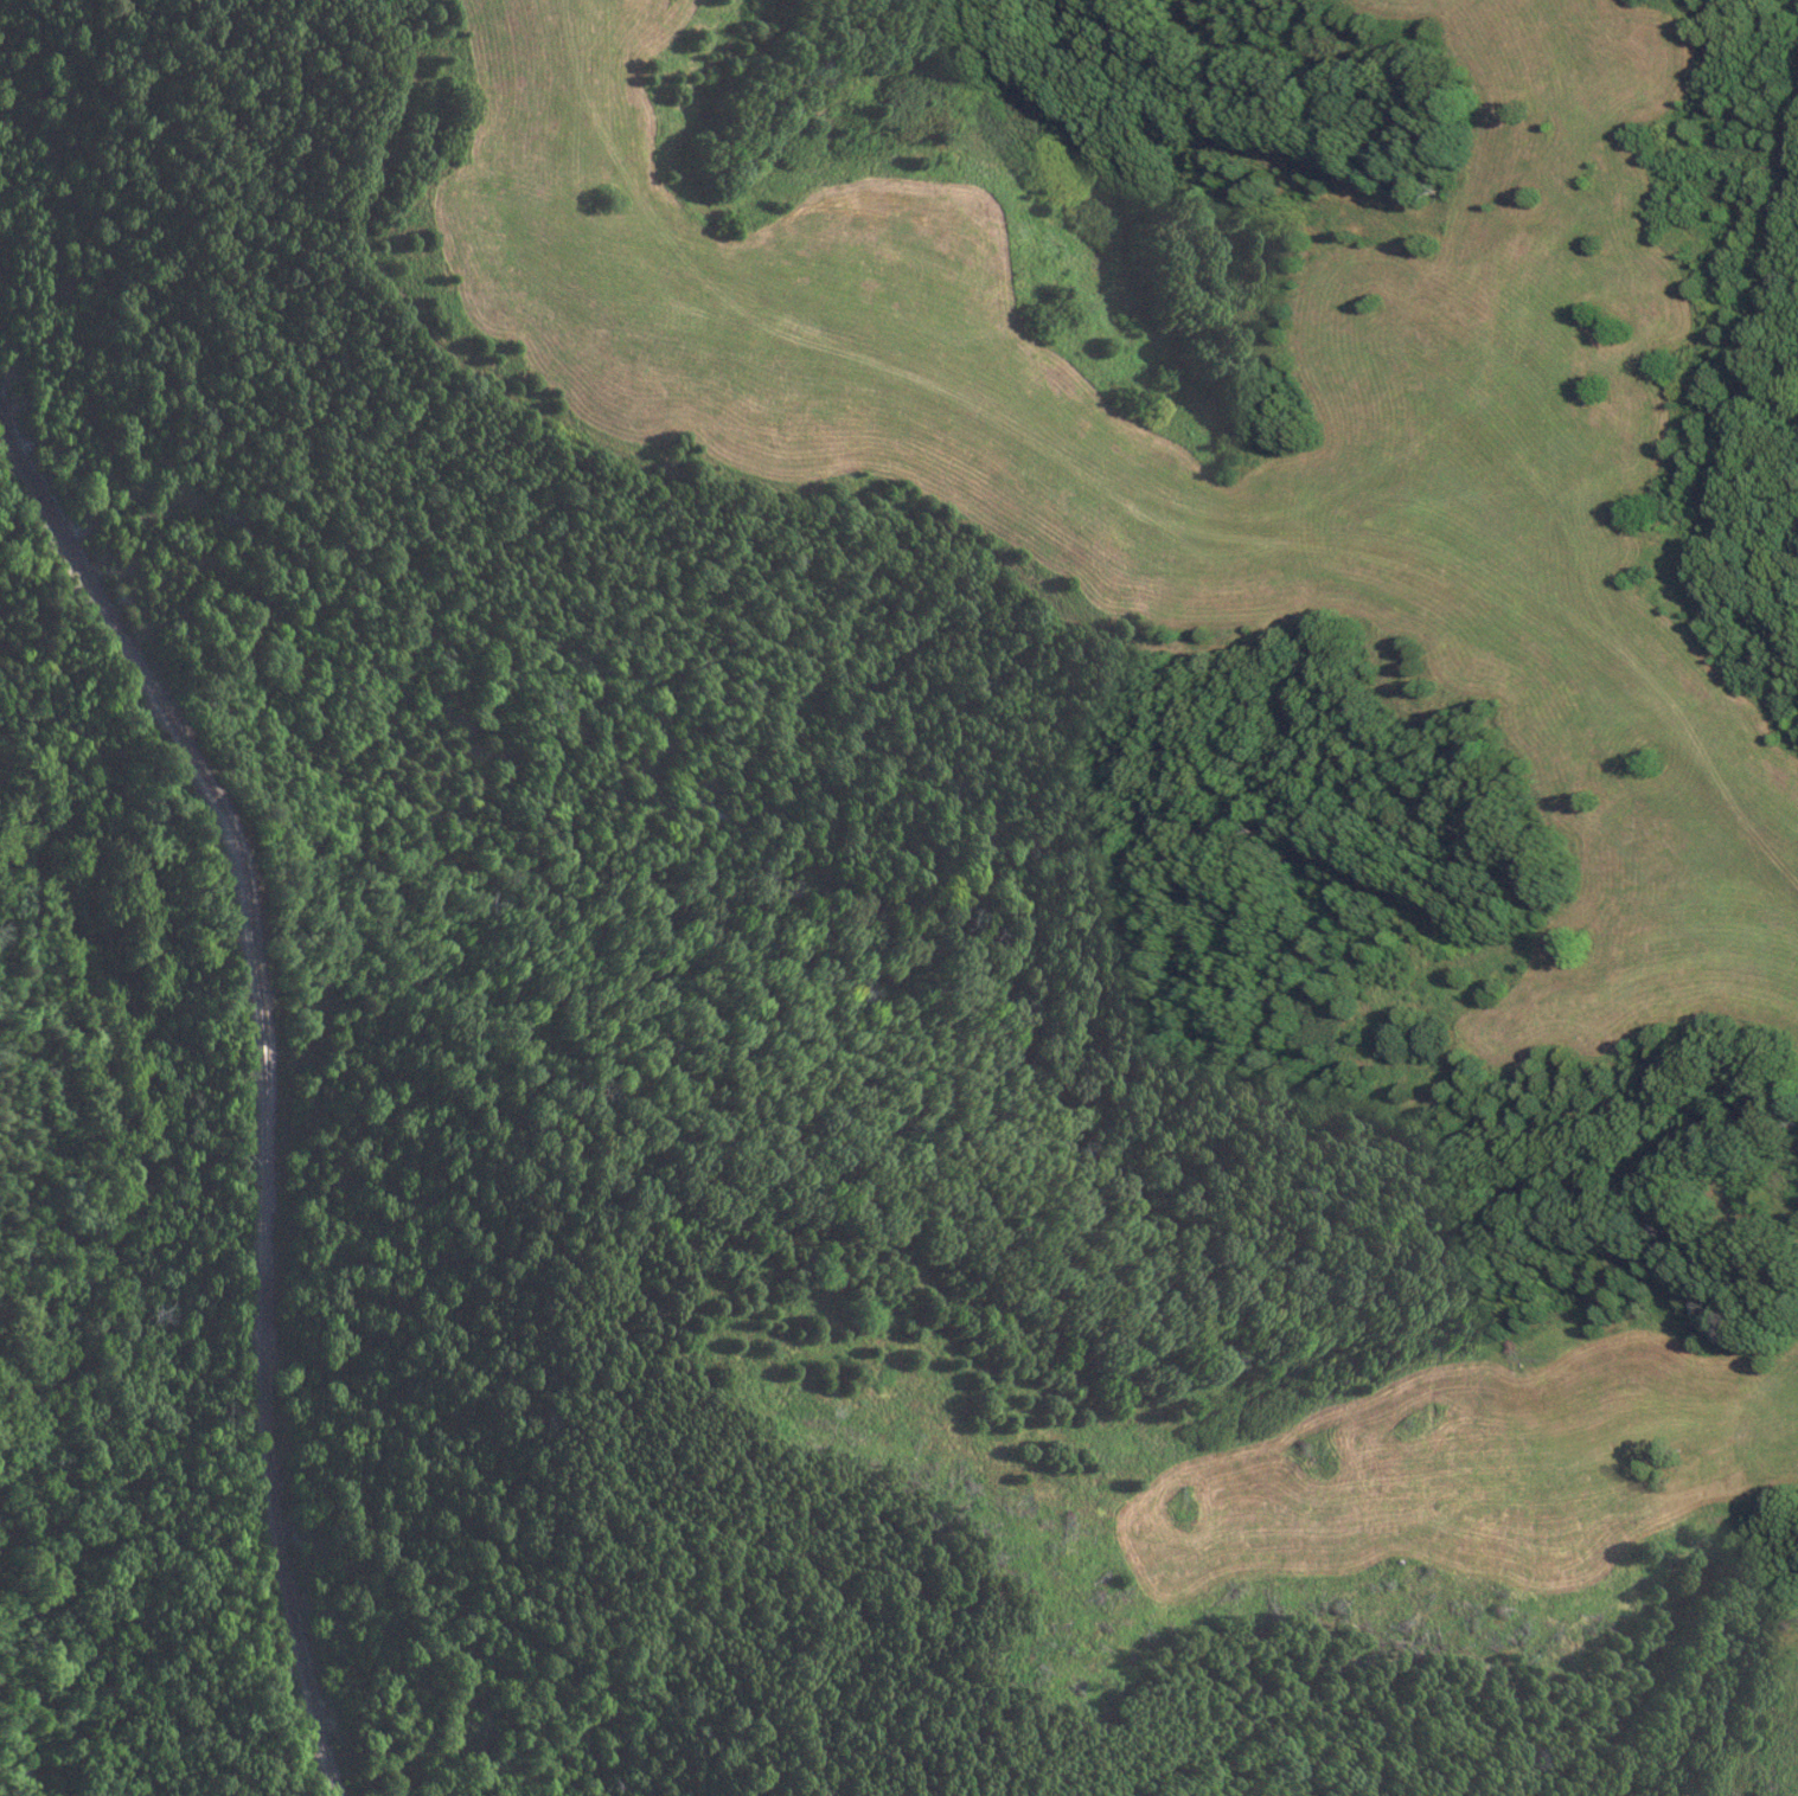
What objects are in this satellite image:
railway: (235, 1123)

